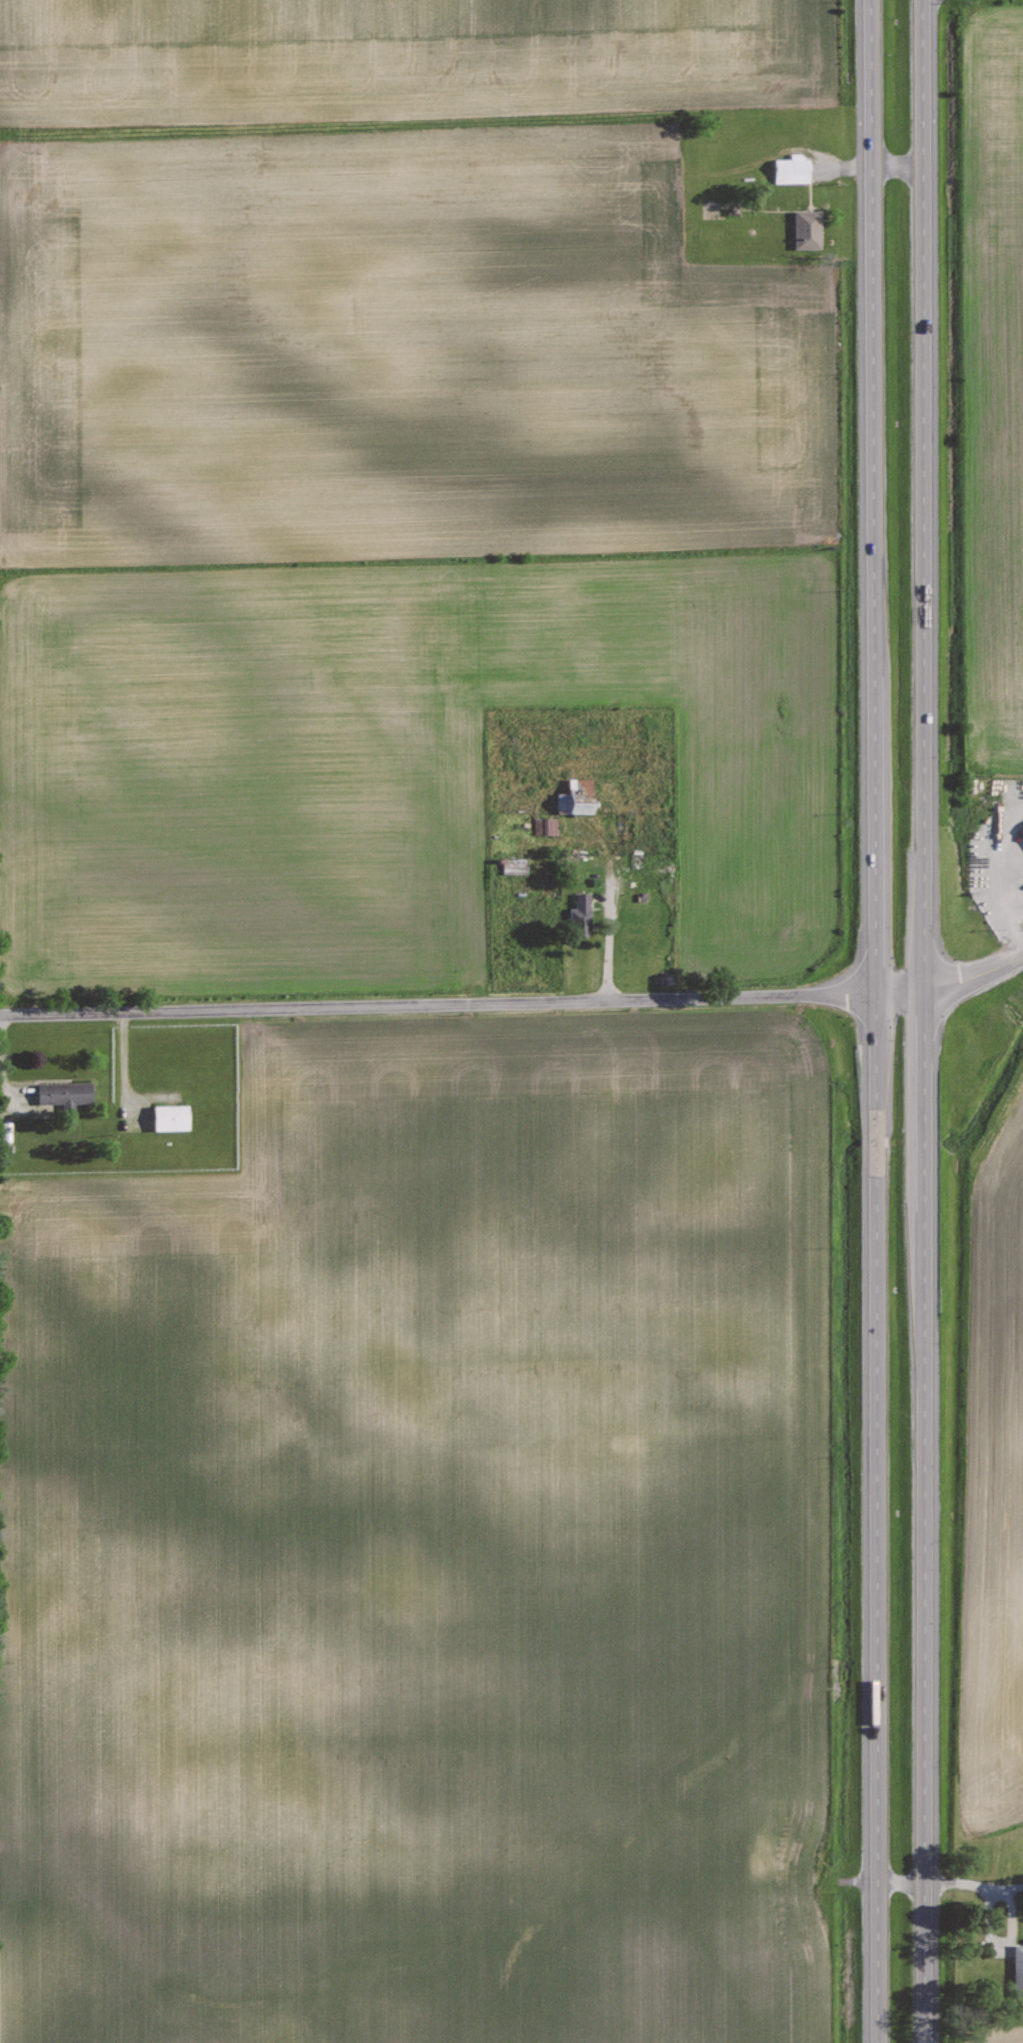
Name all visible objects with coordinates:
building: (792, 168)
building: (806, 228)
building: (576, 797)
building: (544, 826)
building: (1022, 829)
building: (580, 913)
road: (950, 983)
road: (436, 1004)
road: (873, 1021)
road: (922, 1021)
building: (64, 1093)
building: (170, 1117)
road: (898, 1880)
road: (985, 1886)
building: (1018, 1969)

